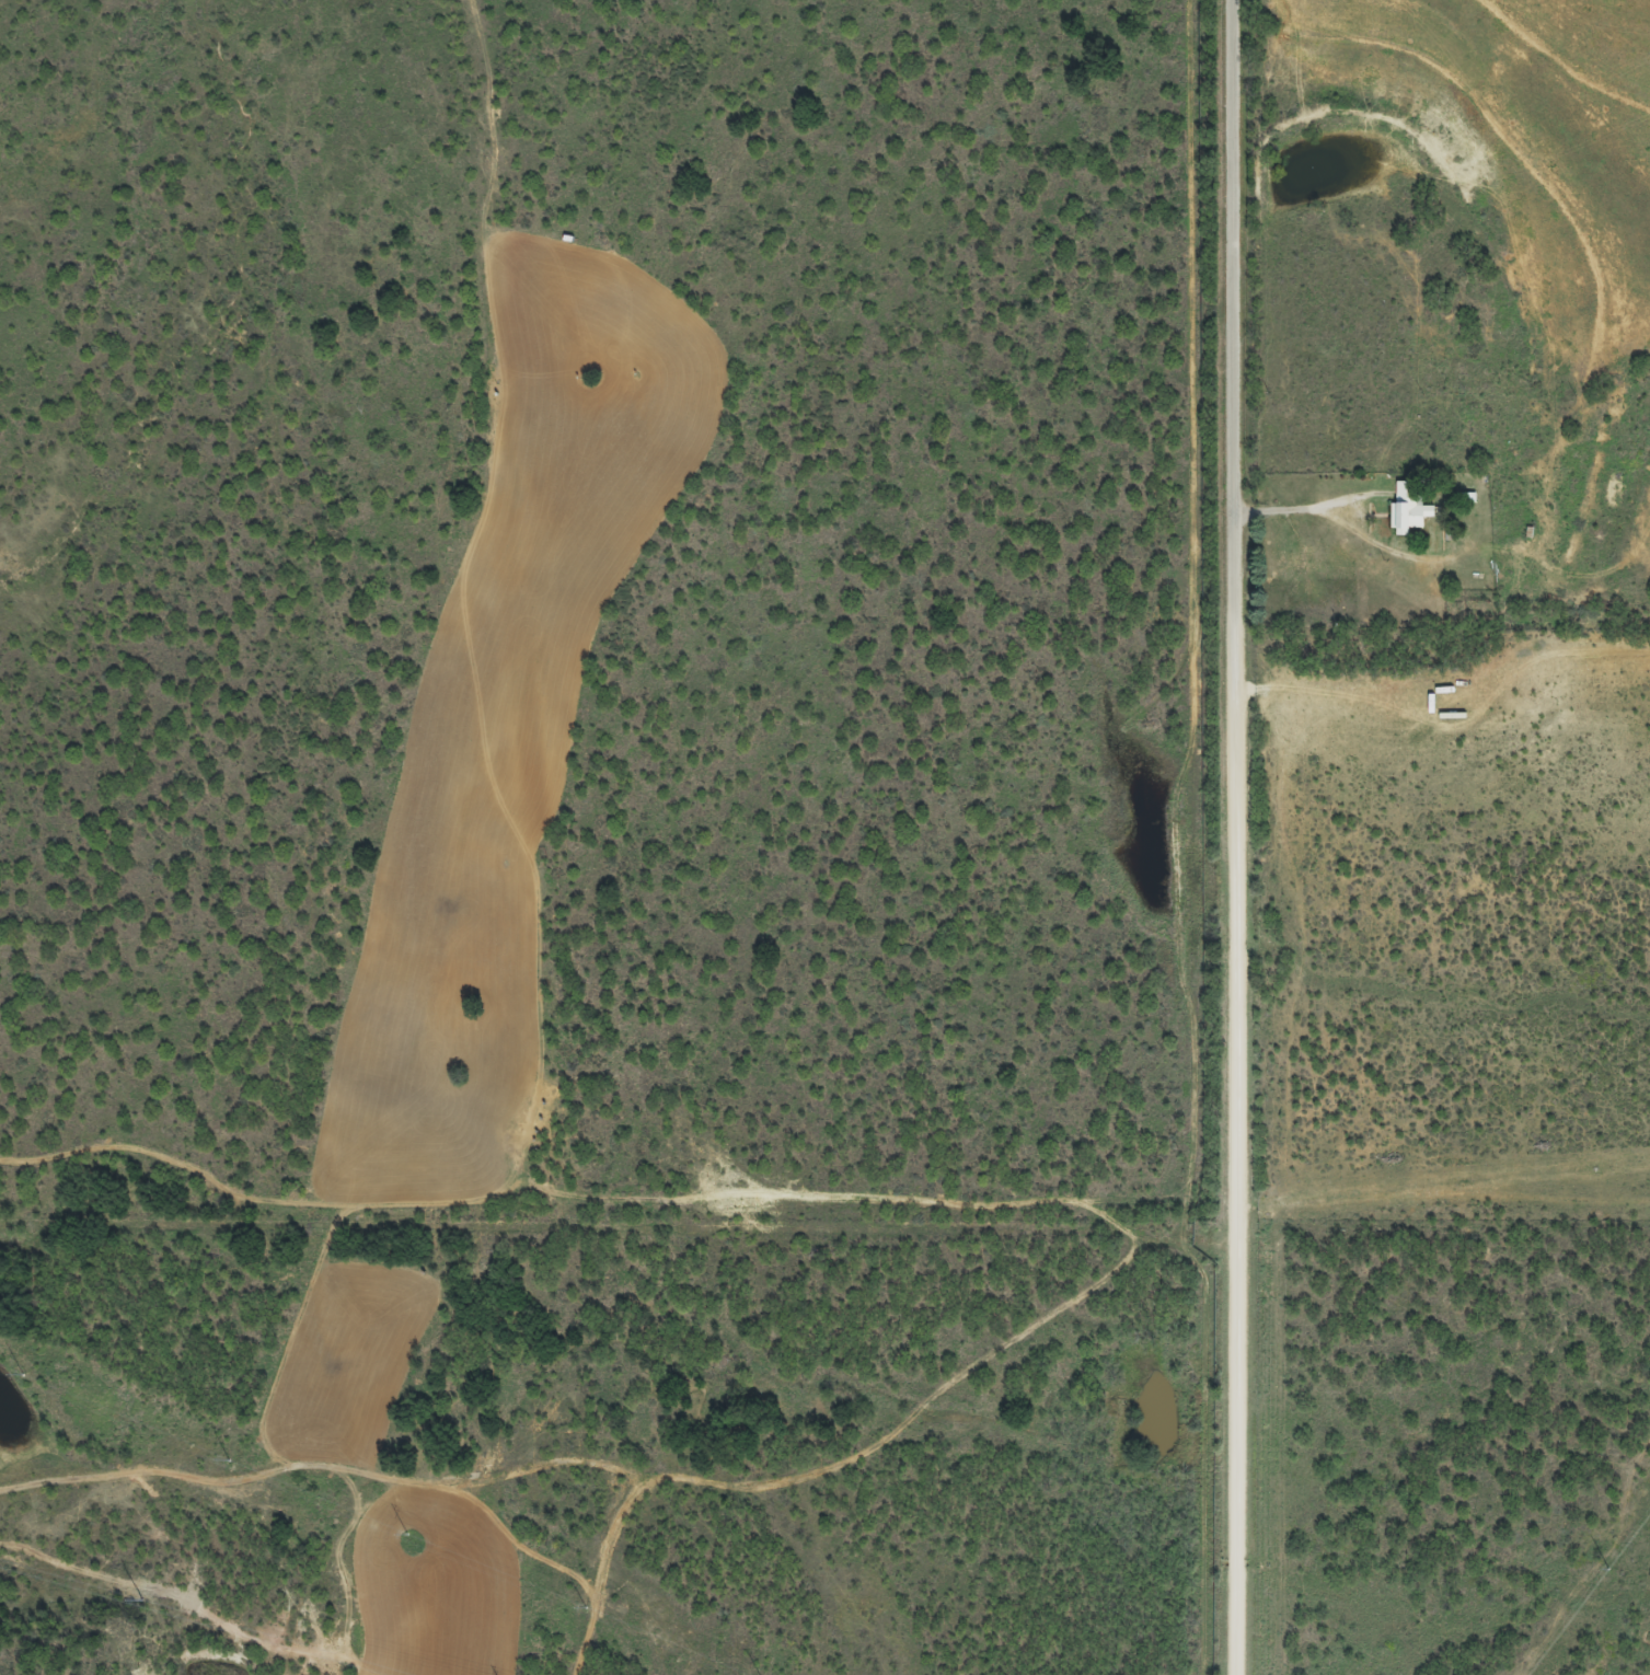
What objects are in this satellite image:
building: (1405, 519)
road: (1233, 838)

